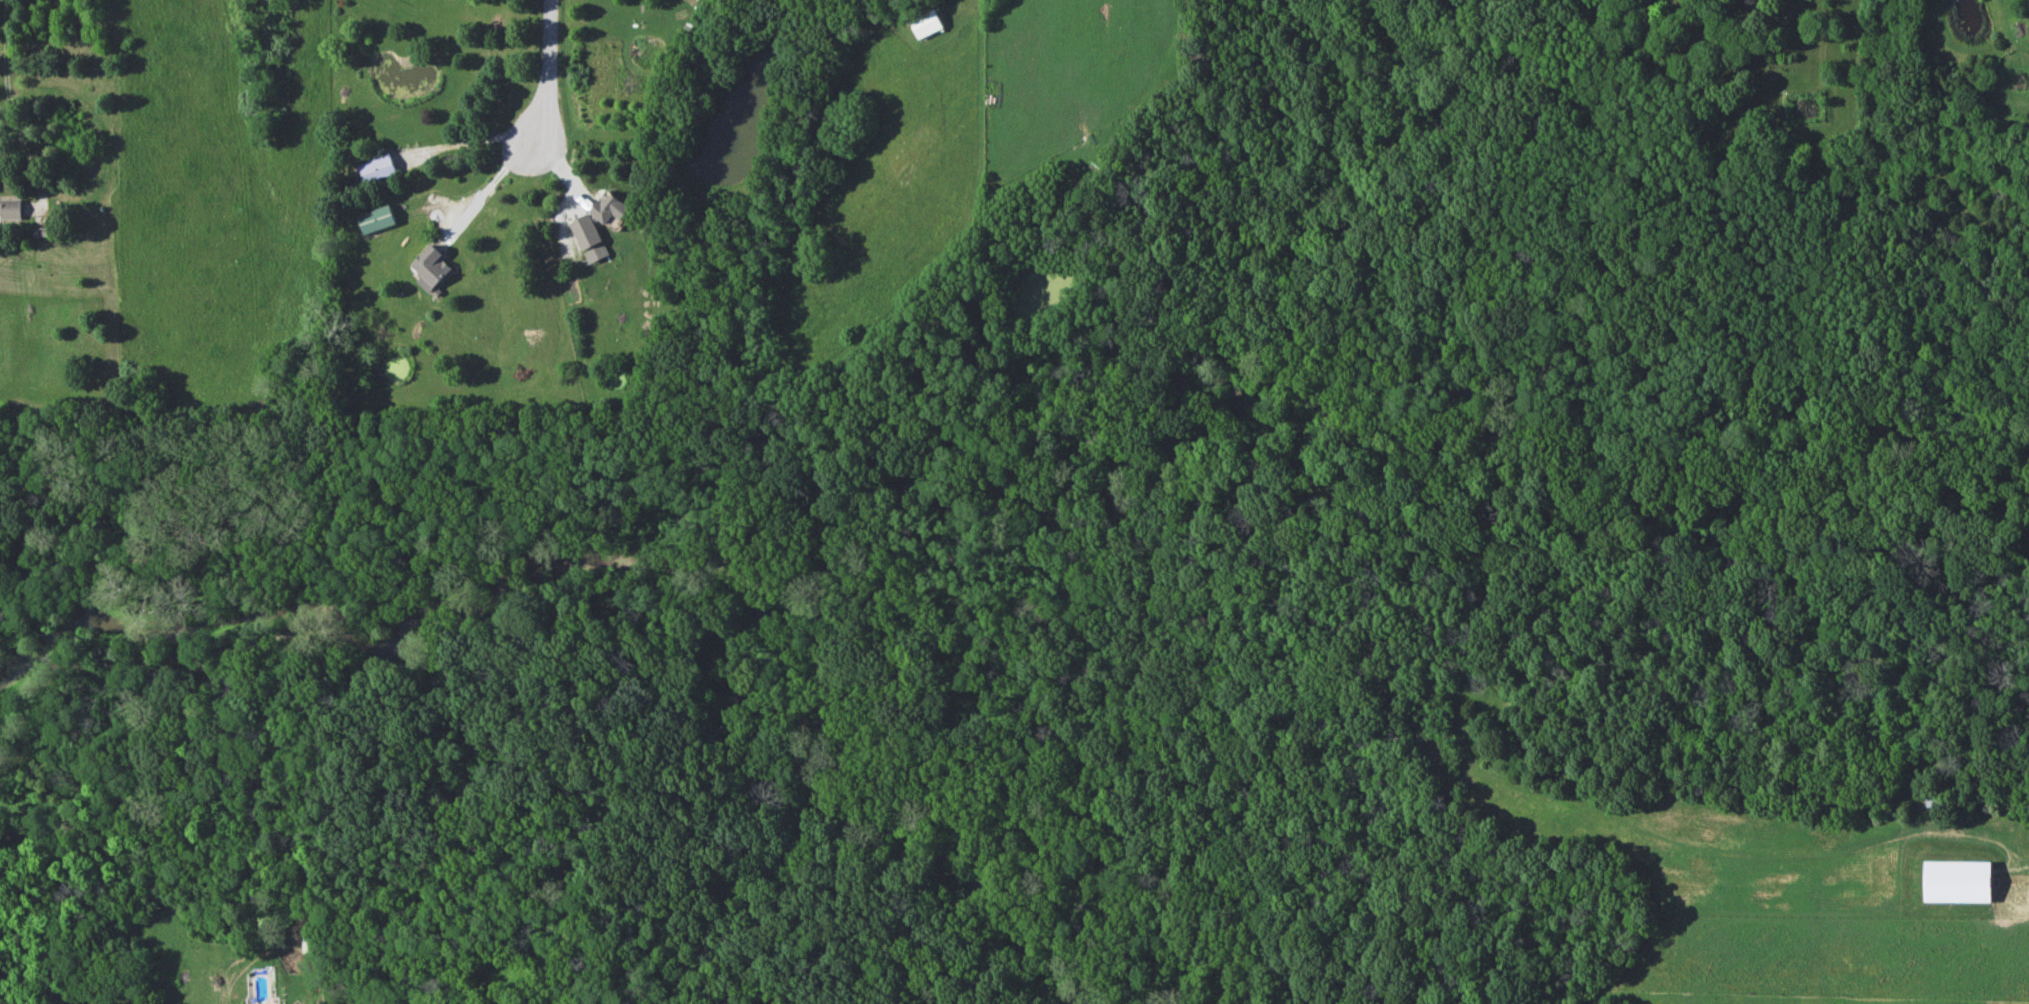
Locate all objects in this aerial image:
building: (926, 23)
road: (6, 43)
road: (541, 70)
road: (468, 139)
building: (377, 168)
road: (489, 181)
road: (94, 193)
building: (609, 207)
building: (10, 208)
building: (376, 218)
building: (589, 238)
building: (431, 267)
building: (1956, 881)

